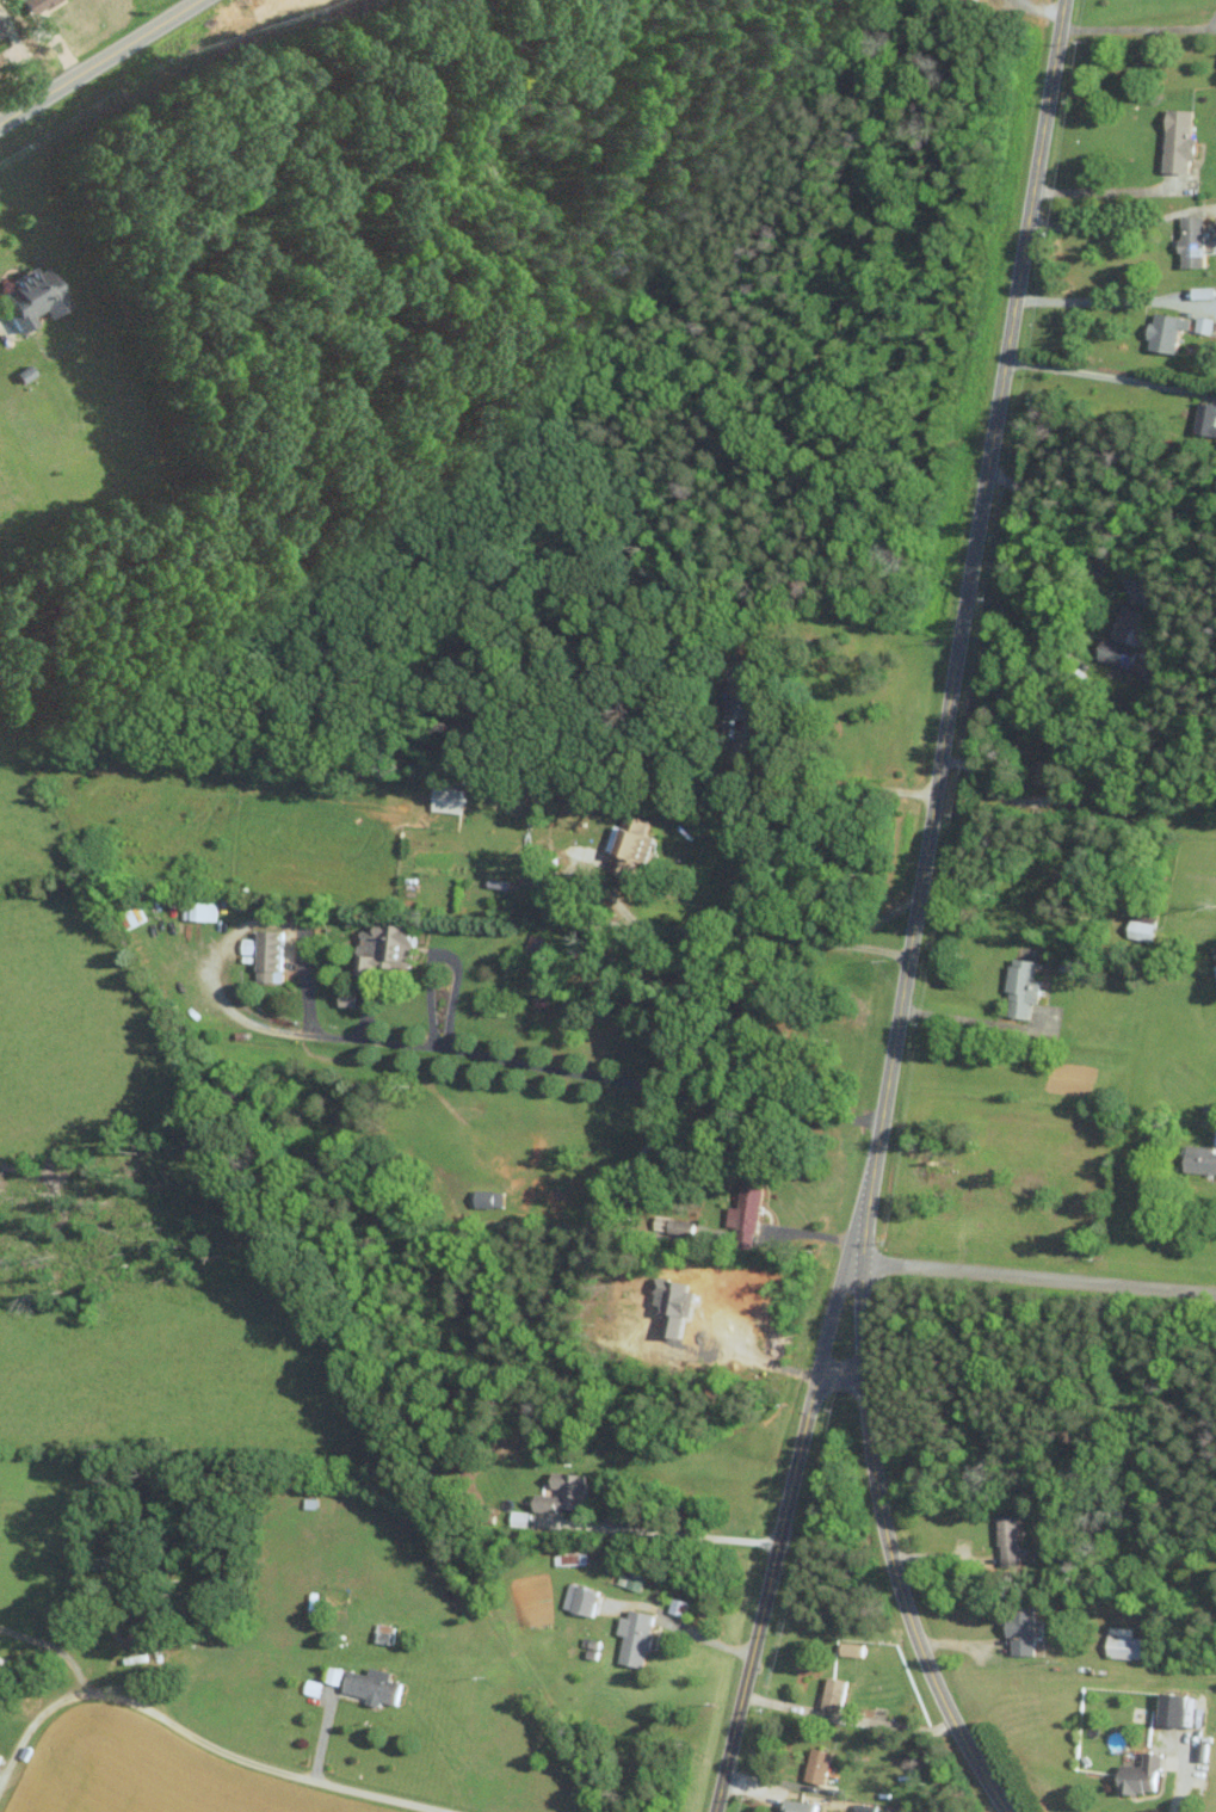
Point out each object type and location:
building: (965, 0)
building: (43, 4)
road: (1137, 27)
building: (2, 29)
building: (7, 56)
road: (101, 62)
building: (1173, 141)
road: (1111, 190)
road: (1106, 224)
building: (1187, 241)
building: (41, 297)
road: (1091, 300)
building: (1200, 325)
building: (1161, 332)
road: (1098, 372)
building: (1203, 419)
road: (1080, 538)
building: (1121, 636)
road: (820, 783)
road: (989, 788)
building: (445, 799)
building: (626, 845)
building: (197, 910)
road: (629, 916)
road: (914, 917)
building: (1138, 929)
road: (851, 936)
building: (381, 945)
road: (440, 950)
building: (263, 954)
building: (1214, 972)
building: (1018, 987)
building: (345, 998)
road: (967, 1018)
road: (501, 1060)
building: (1198, 1159)
building: (484, 1197)
building: (743, 1214)
road: (1035, 1277)
road: (754, 1362)
building: (561, 1492)
road: (779, 1531)
road: (668, 1534)
building: (1005, 1540)
building: (578, 1600)
building: (1017, 1626)
road: (678, 1627)
building: (630, 1637)
building: (1119, 1642)
road: (51, 1647)
building: (847, 1648)
building: (331, 1675)
building: (369, 1685)
building: (309, 1687)
building: (831, 1693)
building: (1166, 1709)
road: (203, 1739)
building: (814, 1765)
building: (1136, 1775)
road: (1180, 1783)
building: (796, 1806)

